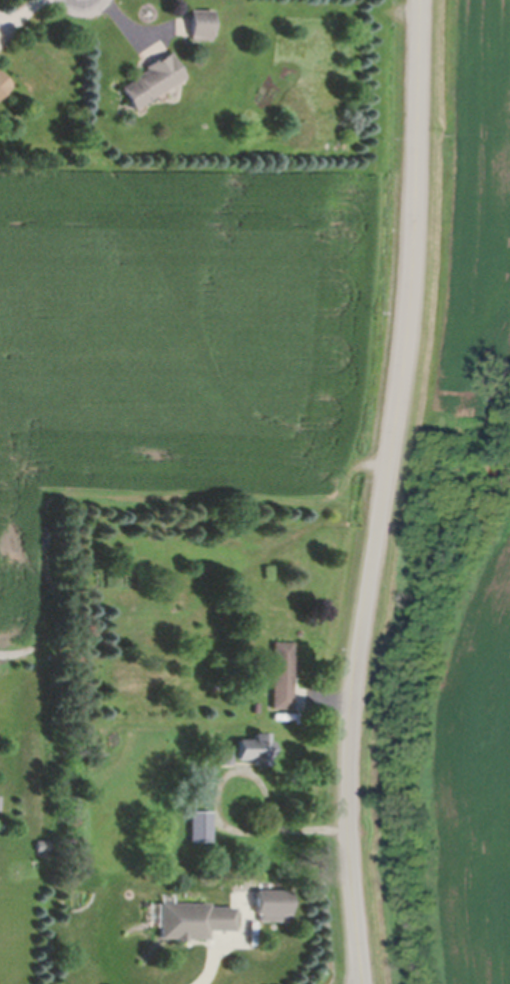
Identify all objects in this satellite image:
building: (200, 25)
building: (151, 82)
building: (3, 86)
road: (384, 492)
building: (280, 678)
building: (253, 711)
building: (279, 720)
building: (251, 754)
building: (224, 760)
building: (204, 805)
road: (217, 821)
building: (201, 837)
building: (40, 848)
building: (268, 910)
building: (190, 925)

